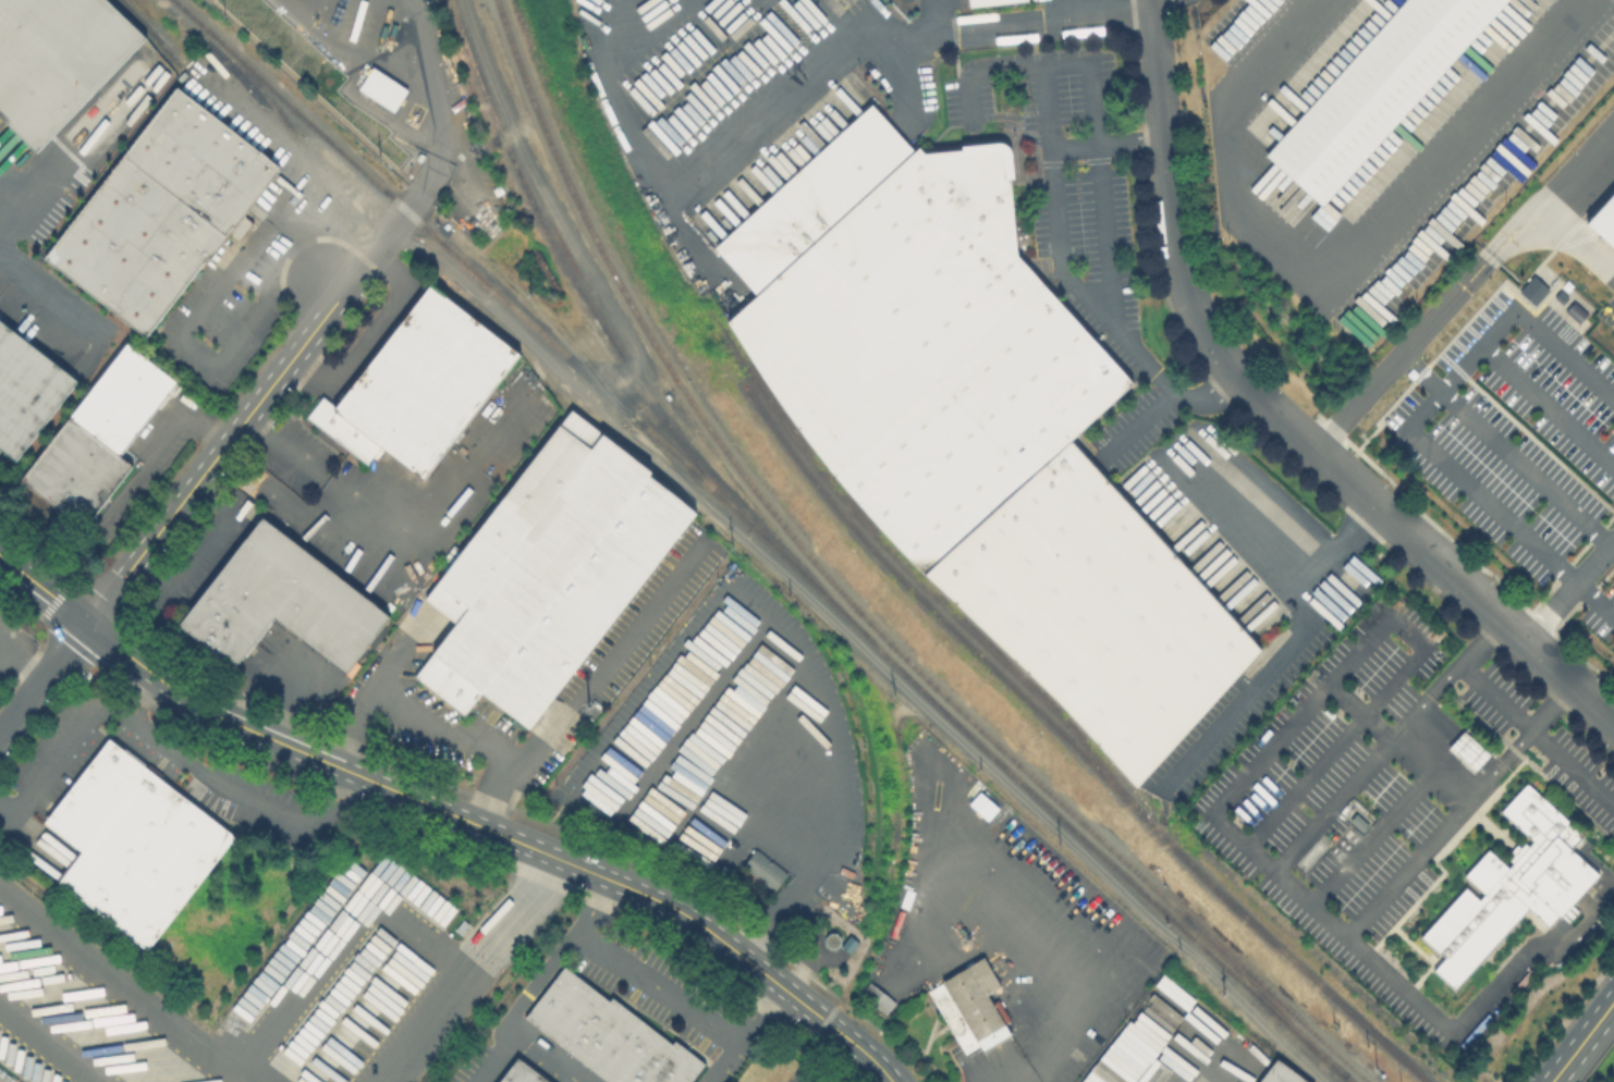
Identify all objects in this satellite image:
building: (990, 2)
road: (1097, 10)
railway: (150, 30)
road: (881, 41)
road: (420, 49)
road: (343, 52)
building: (57, 60)
building: (1380, 90)
building: (381, 93)
road: (438, 127)
railway: (309, 161)
road: (1576, 169)
building: (163, 213)
road: (15, 219)
building: (1606, 223)
road: (390, 224)
building: (242, 230)
road: (1333, 245)
road: (1576, 245)
road: (1063, 272)
railway: (572, 276)
building: (1532, 290)
road: (49, 294)
road: (197, 313)
road: (1505, 319)
road: (1428, 332)
building: (428, 383)
building: (26, 391)
road: (1548, 405)
road: (1277, 417)
building: (979, 431)
building: (345, 432)
building: (100, 439)
road: (215, 458)
road: (1527, 469)
road: (127, 481)
road: (1488, 508)
road: (735, 531)
railway: (767, 537)
railway: (912, 567)
building: (549, 574)
road: (44, 589)
road: (1568, 589)
road: (20, 601)
railway: (852, 602)
building: (284, 603)
road: (633, 627)
road: (1381, 634)
road: (698, 641)
road: (4, 644)
road: (26, 652)
road: (1284, 654)
road: (394, 662)
road: (44, 681)
road: (704, 714)
road: (417, 718)
road: (81, 729)
road: (356, 730)
parking lot: (1539, 733)
road: (1539, 734)
road: (737, 741)
railway: (1075, 742)
road: (535, 743)
road: (1390, 746)
road: (292, 748)
building: (1470, 753)
road: (1440, 761)
road: (497, 765)
road: (1307, 780)
road: (249, 799)
building: (981, 804)
road: (805, 807)
road: (1459, 809)
road: (1379, 836)
parking lot: (1323, 837)
building: (136, 845)
building: (766, 871)
building: (1512, 887)
road: (1310, 902)
road: (594, 908)
road: (341, 937)
road: (718, 937)
road: (478, 964)
road: (1043, 976)
road: (657, 986)
road: (124, 992)
railway: (1265, 994)
building: (879, 1000)
building: (979, 1005)
road: (519, 1006)
road: (757, 1012)
building: (955, 1019)
building: (608, 1035)
road: (1582, 1042)
road: (47, 1044)
road: (546, 1057)
road: (726, 1063)
building: (521, 1073)
building: (1282, 1075)
road: (1030, 1079)

